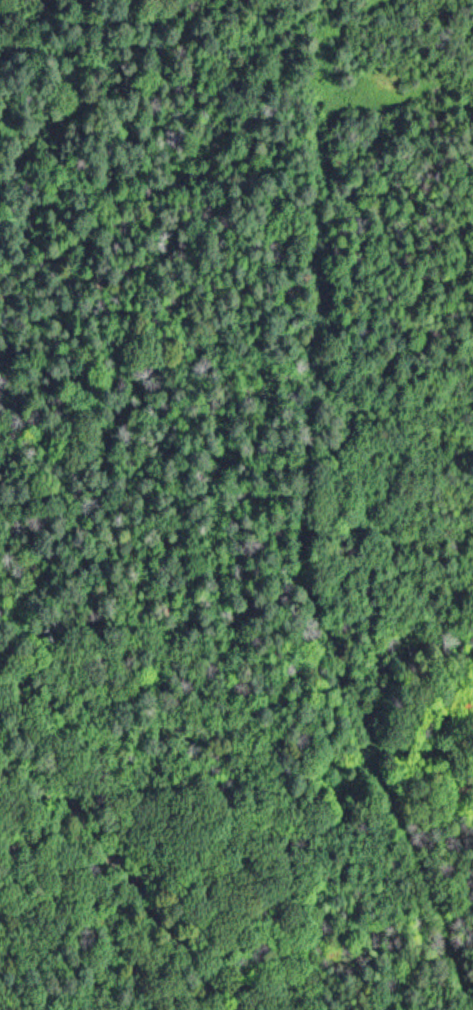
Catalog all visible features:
road: (107, 882)

